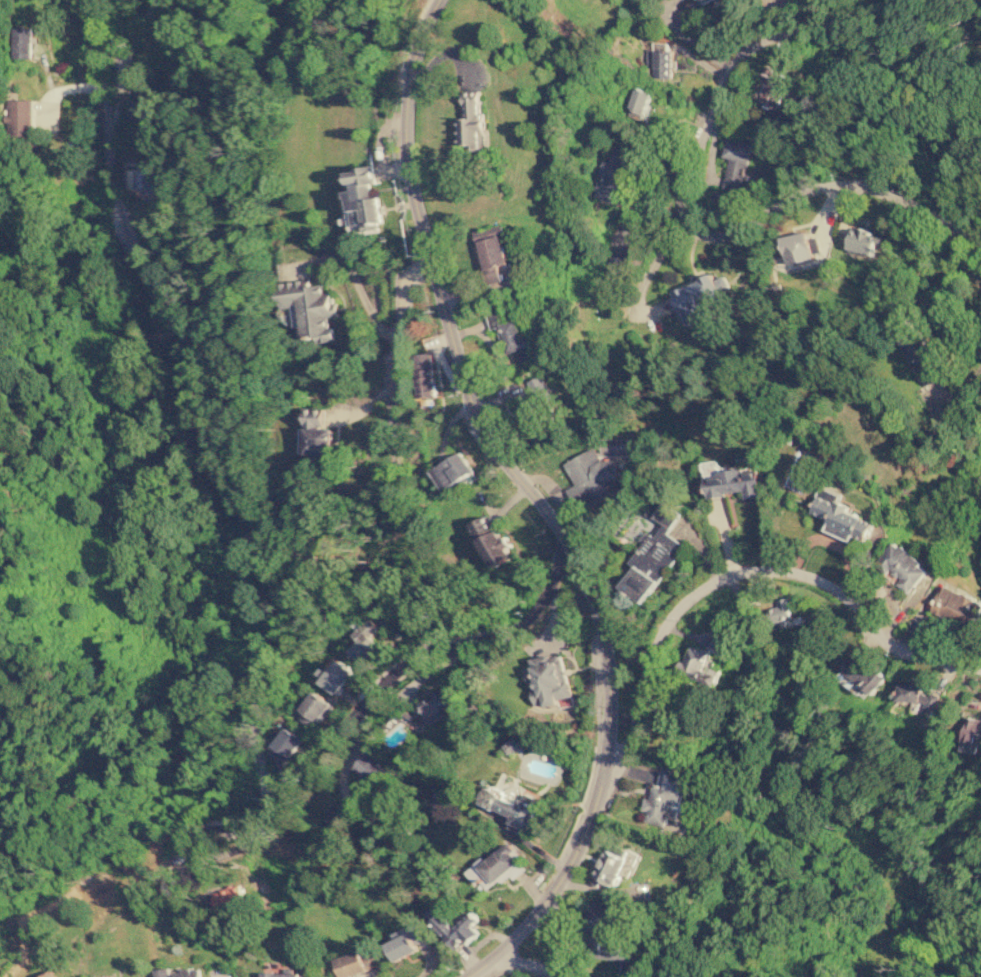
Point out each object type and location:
building: (704, 0)
building: (659, 61)
building: (772, 88)
building: (638, 103)
building: (141, 110)
building: (20, 116)
building: (737, 164)
building: (611, 176)
building: (148, 178)
building: (363, 201)
road: (681, 213)
building: (863, 240)
building: (800, 246)
building: (491, 251)
building: (616, 264)
road: (646, 275)
building: (699, 295)
building: (311, 308)
building: (508, 331)
road: (395, 348)
building: (921, 356)
building: (426, 374)
road: (469, 392)
building: (533, 397)
road: (229, 420)
building: (798, 470)
building: (453, 471)
building: (591, 477)
building: (731, 482)
building: (839, 516)
building: (492, 541)
building: (901, 565)
road: (752, 567)
building: (957, 607)
building: (781, 611)
building: (365, 638)
building: (714, 646)
road: (406, 662)
building: (700, 665)
building: (864, 673)
building: (334, 674)
building: (547, 679)
building: (920, 696)
building: (436, 702)
building: (313, 709)
building: (972, 736)
building: (288, 743)
building: (368, 773)
building: (663, 796)
building: (334, 814)
building: (498, 864)
building: (609, 865)
road: (554, 881)
building: (454, 925)
building: (607, 934)
building: (406, 941)
road: (531, 961)
building: (353, 962)
building: (175, 972)
building: (51, 974)
building: (279, 974)

